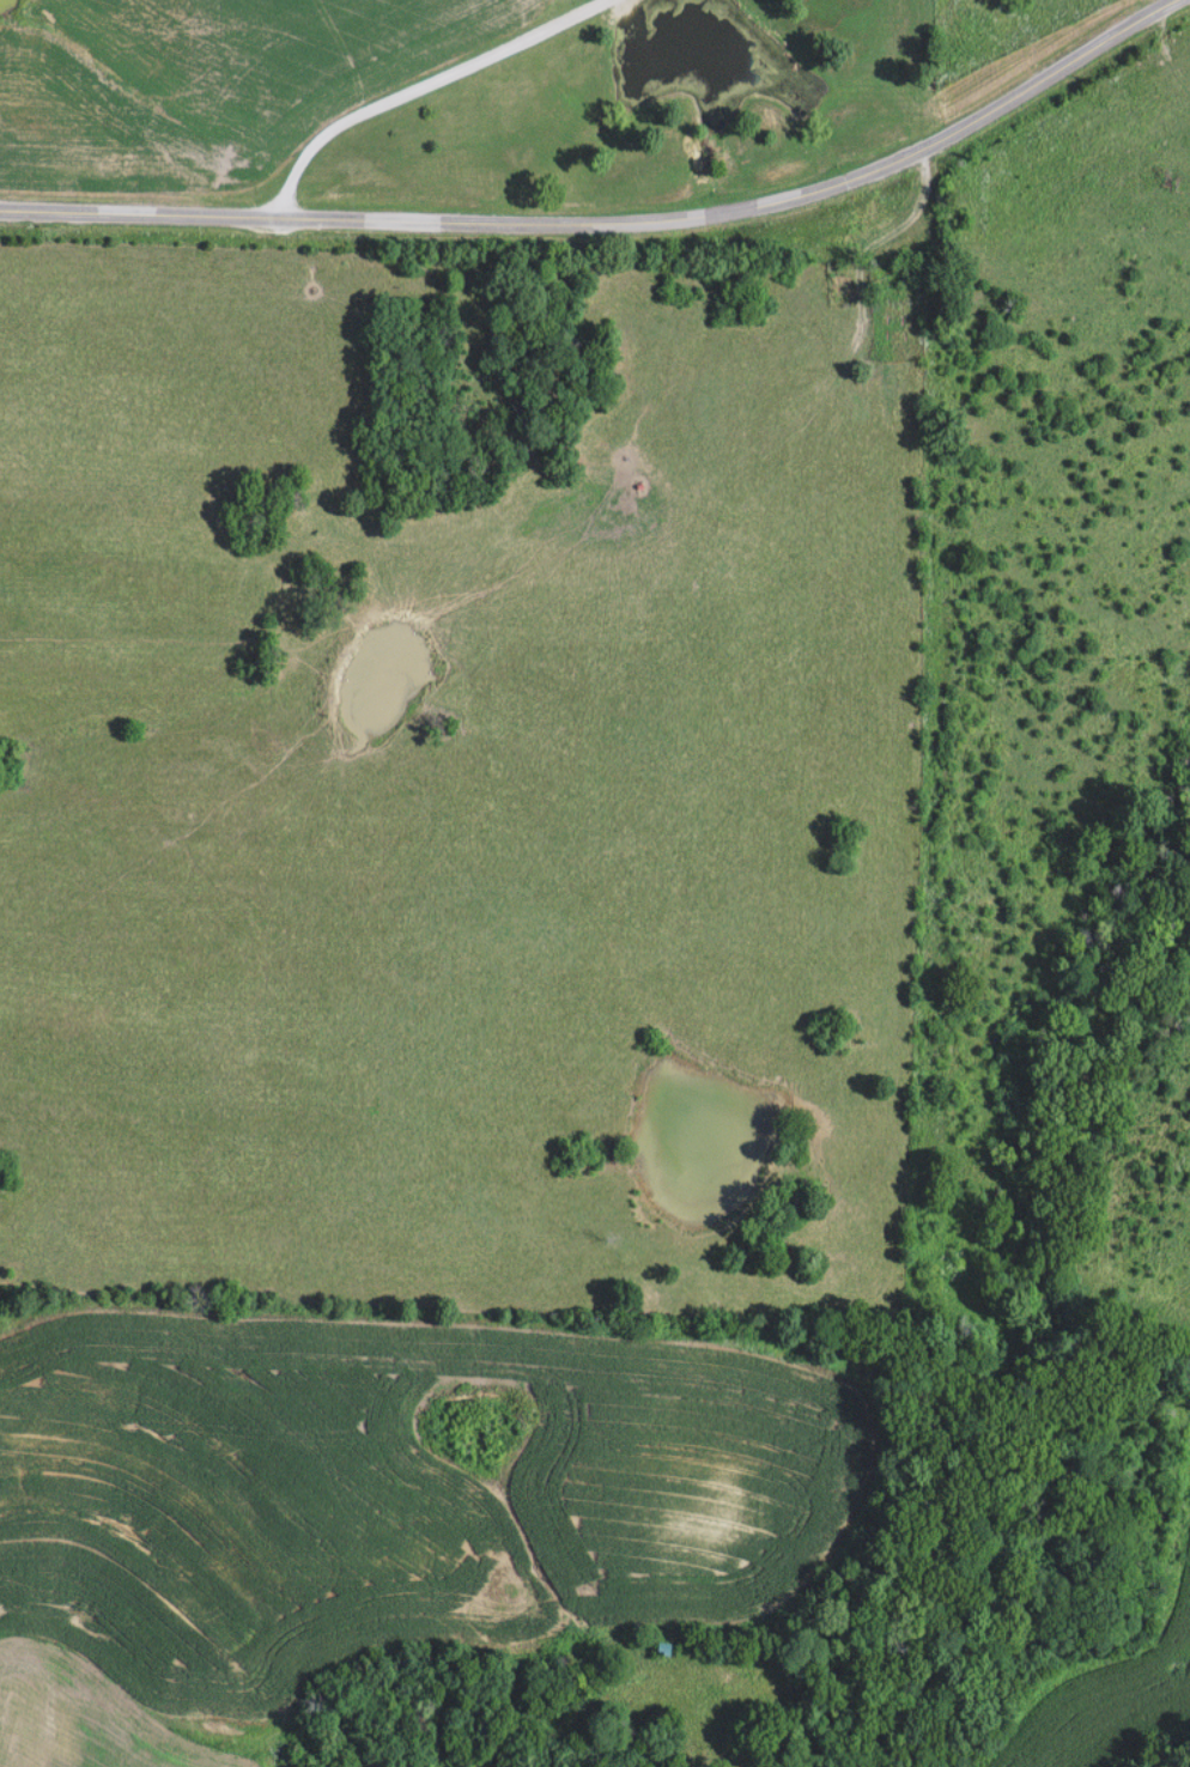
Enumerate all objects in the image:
road: (417, 87)
road: (611, 221)
building: (655, 1648)

